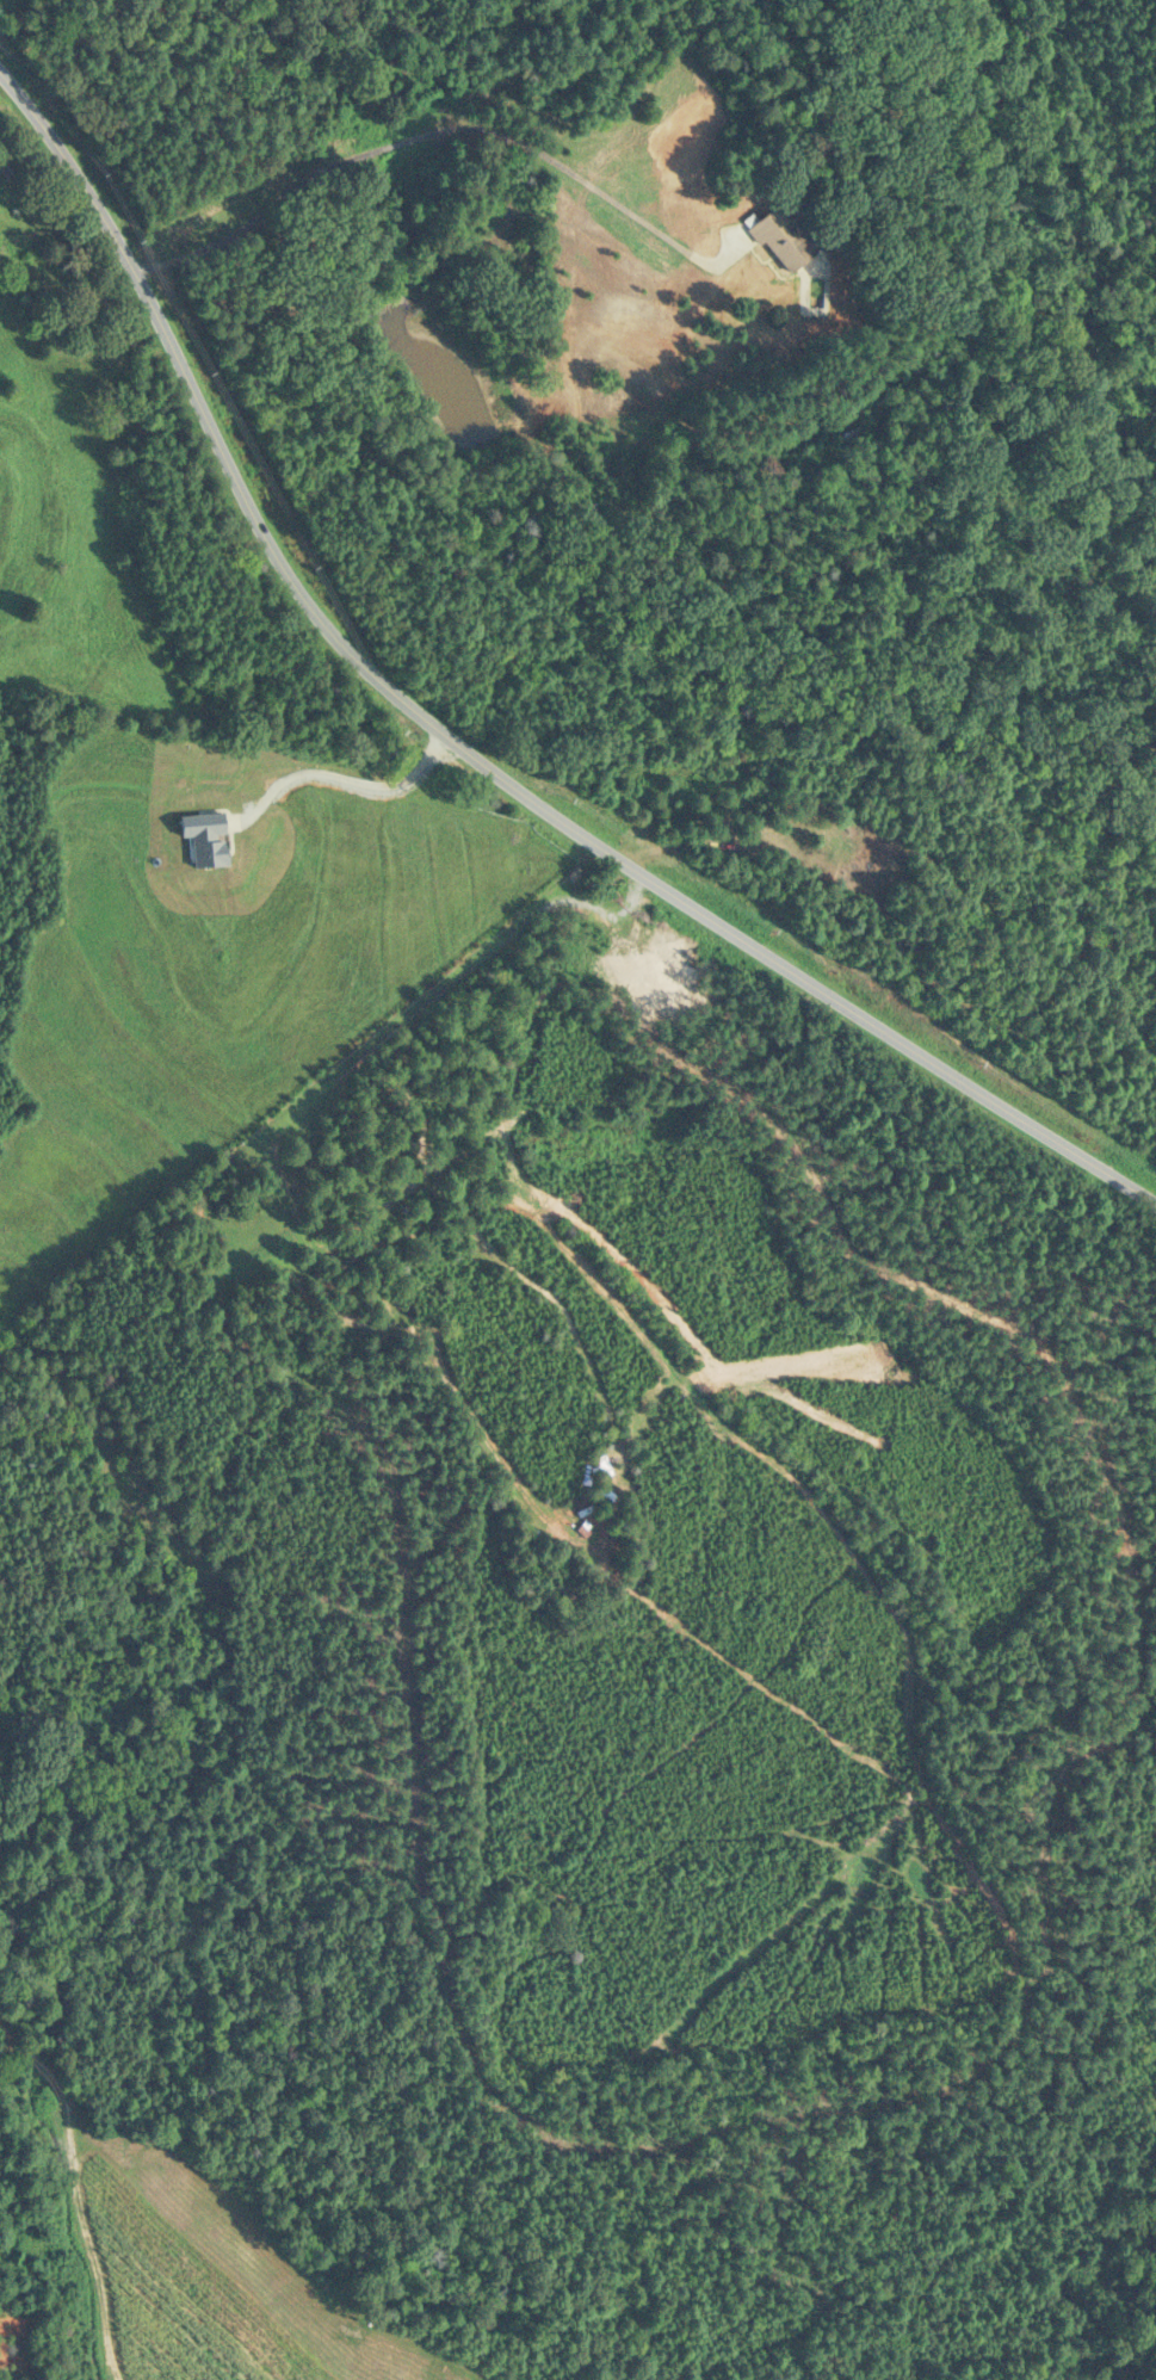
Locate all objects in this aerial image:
building: (5, 163)
building: (778, 241)
building: (851, 437)
road: (192, 630)
road: (477, 736)
road: (334, 768)
building: (600, 1465)
road: (125, 1483)

